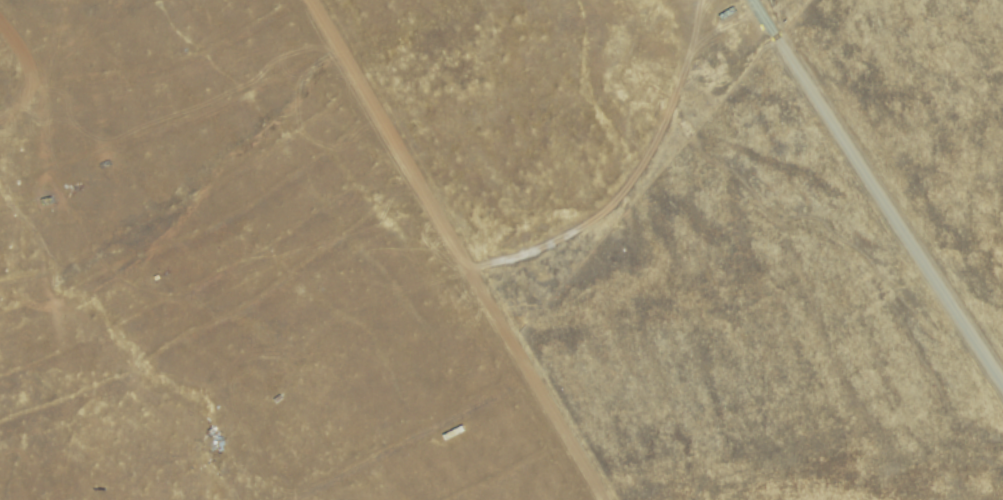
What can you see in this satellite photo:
road: (32, 77)
road: (168, 120)
road: (878, 189)
road: (455, 249)
airport: (501, 250)
road: (411, 436)

